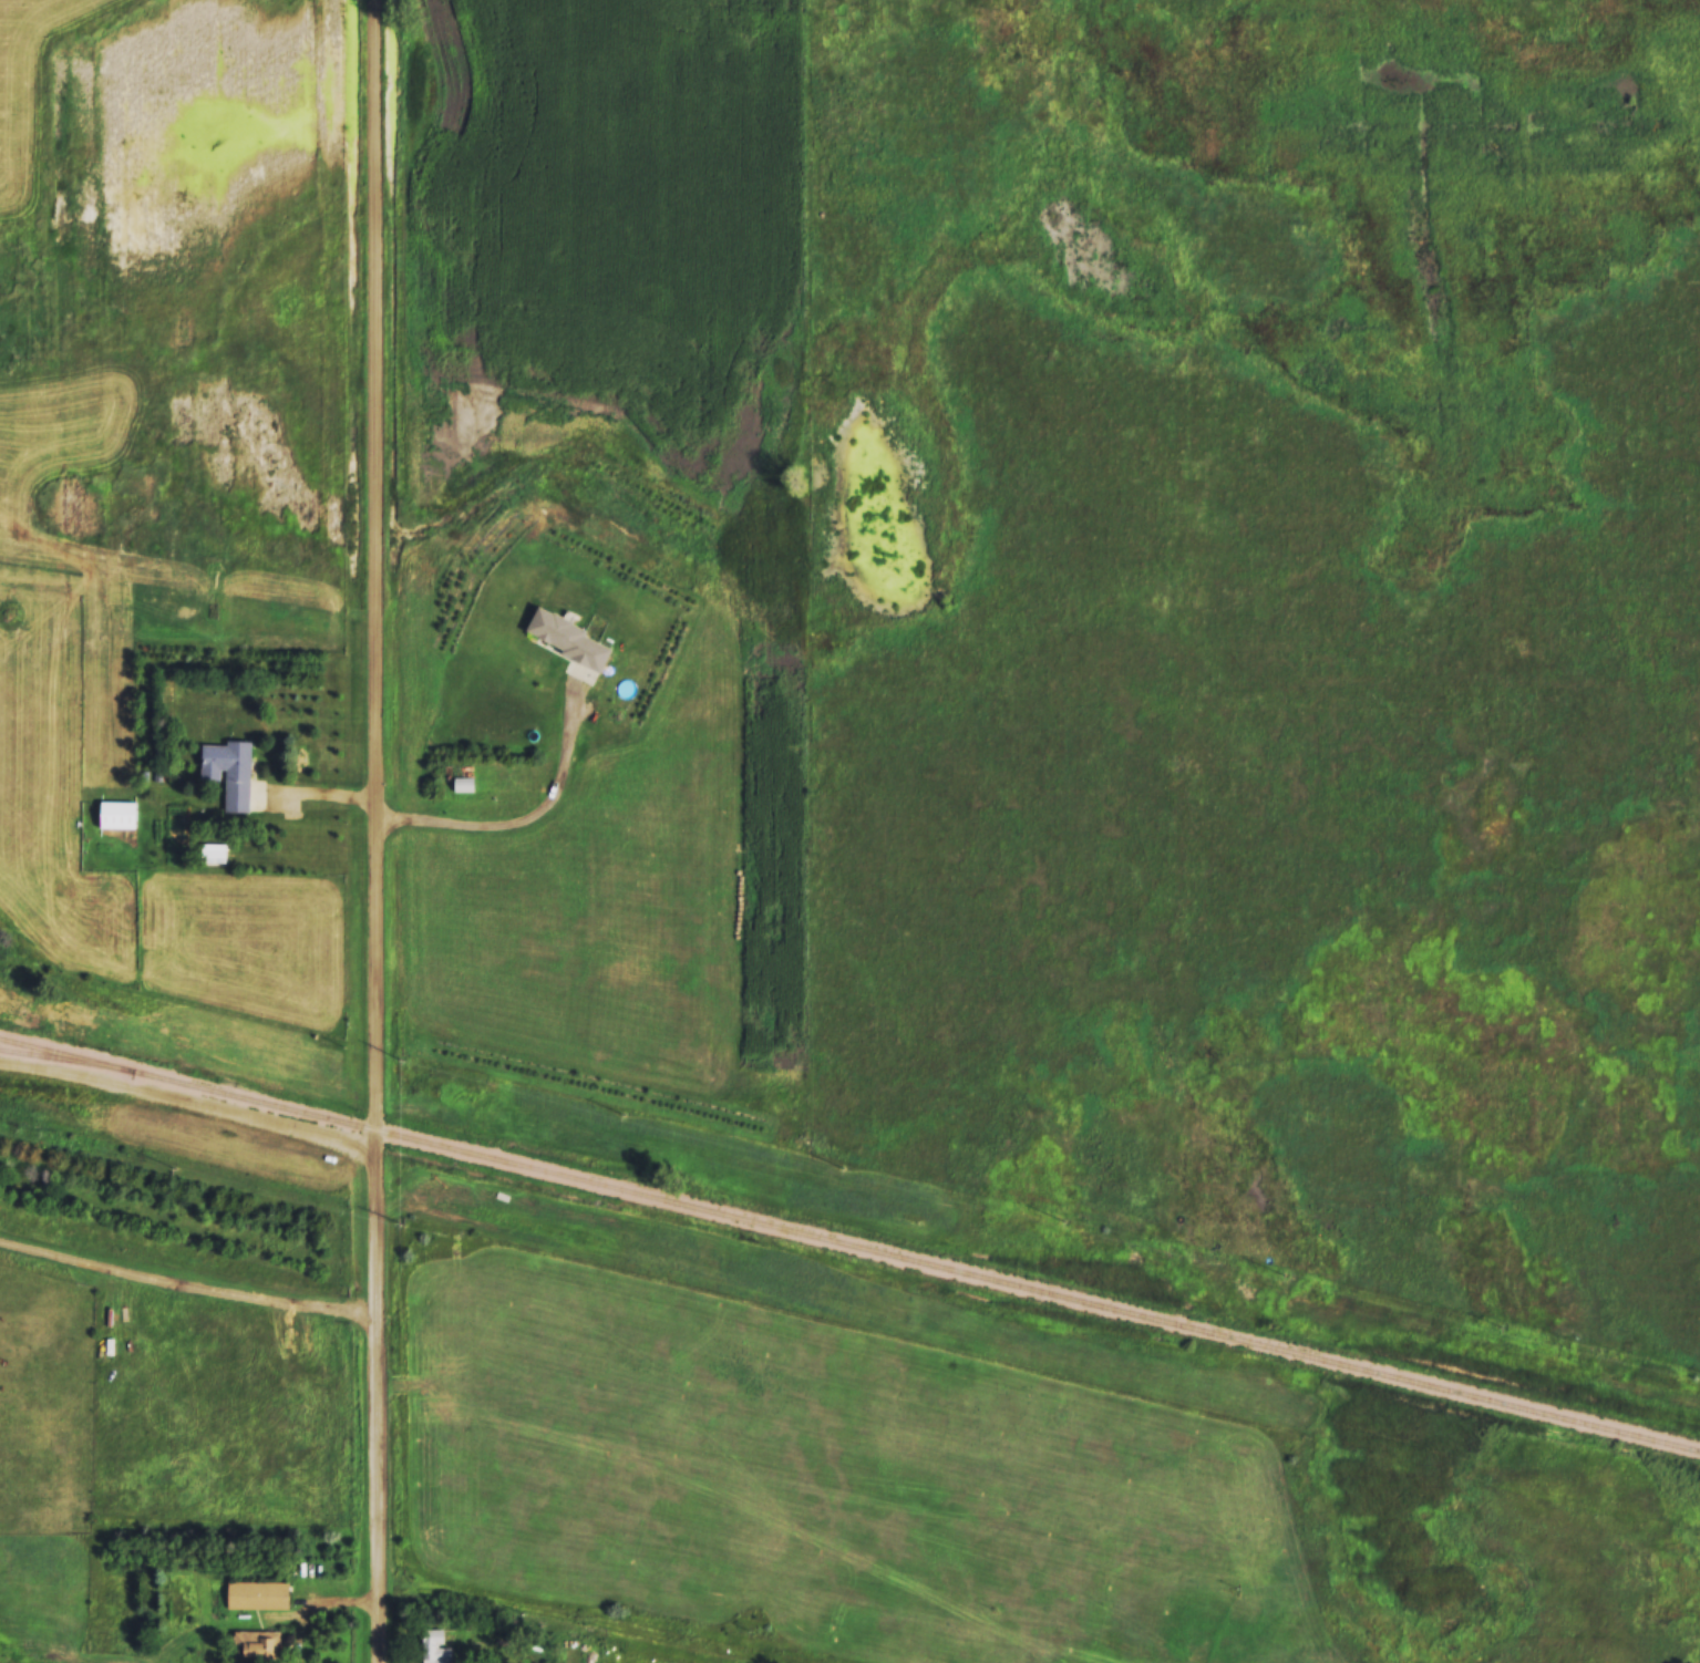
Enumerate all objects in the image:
building: (229, 771)
building: (463, 783)
road: (312, 789)
building: (120, 814)
road: (521, 816)
road: (372, 832)
railway: (849, 1244)
building: (258, 1594)
road: (578, 1620)
road: (1210, 1638)
building: (260, 1645)
building: (436, 1646)

